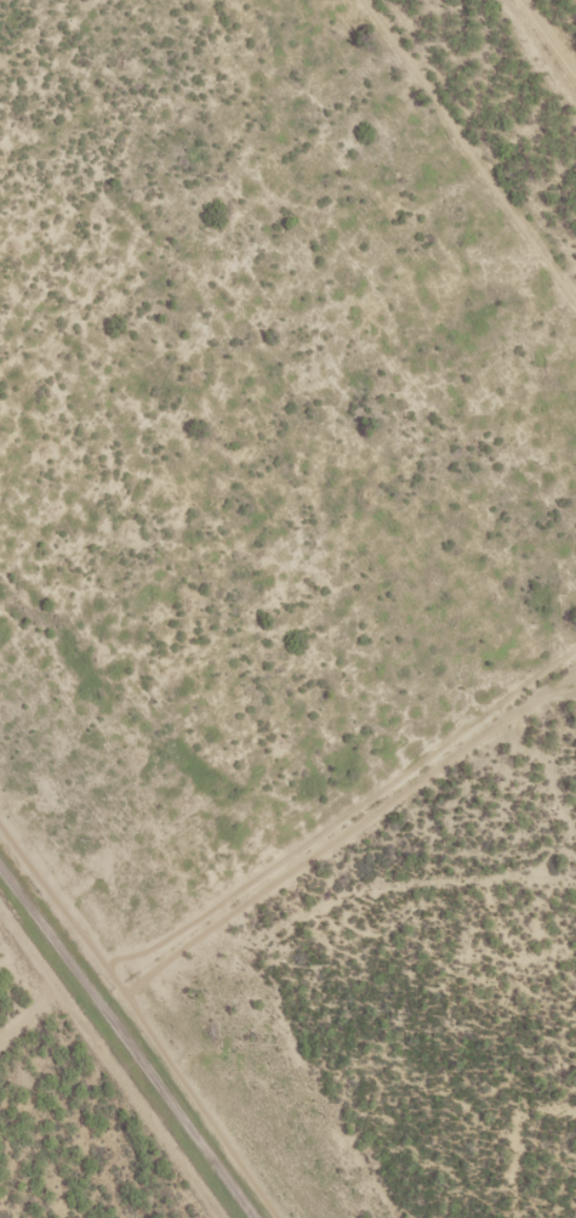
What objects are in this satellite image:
road: (130, 1036)

